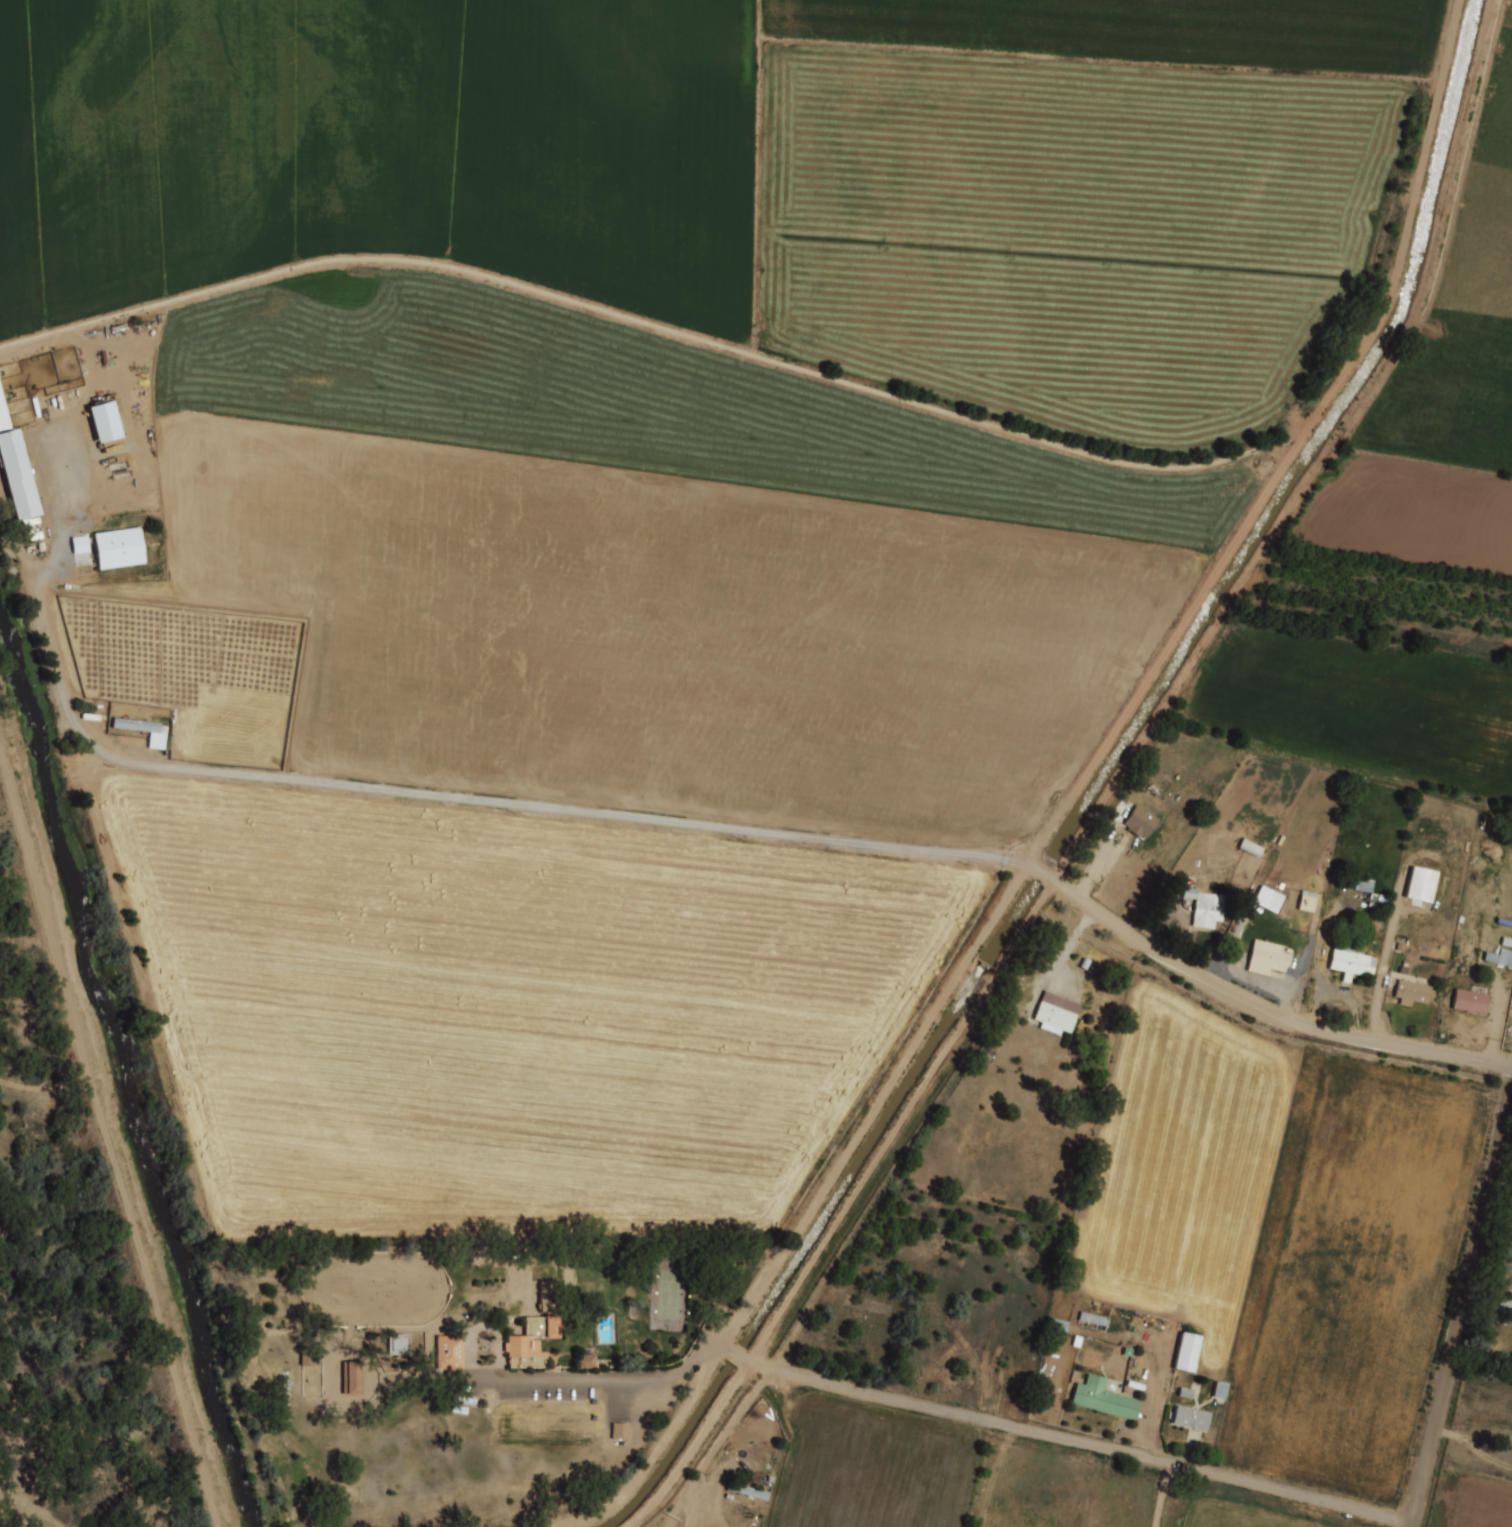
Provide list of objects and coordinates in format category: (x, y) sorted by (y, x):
building: (103, 420)
building: (15, 469)
building: (79, 543)
building: (118, 547)
building: (145, 728)
building: (1139, 823)
road: (842, 842)
building: (1249, 846)
building: (1362, 884)
building: (1420, 887)
building: (1267, 898)
building: (1306, 900)
building: (1380, 901)
building: (1204, 907)
building: (1501, 957)
building: (1265, 959)
building: (1349, 962)
road: (1382, 979)
building: (1410, 994)
building: (1471, 1000)
building: (1055, 1013)
building: (513, 1253)
park: (671, 1294)
building: (551, 1295)
building: (1505, 1304)
road: (1464, 1311)
building: (1092, 1318)
building: (1056, 1325)
building: (534, 1343)
building: (401, 1345)
fountain: (486, 1347)
building: (1186, 1351)
building: (452, 1352)
building: (309, 1357)
building: (589, 1361)
road: (641, 1376)
building: (355, 1377)
building: (1103, 1399)
building: (1190, 1419)
road: (1004, 1424)
building: (624, 1431)
building: (751, 1491)
road: (1166, 1495)

